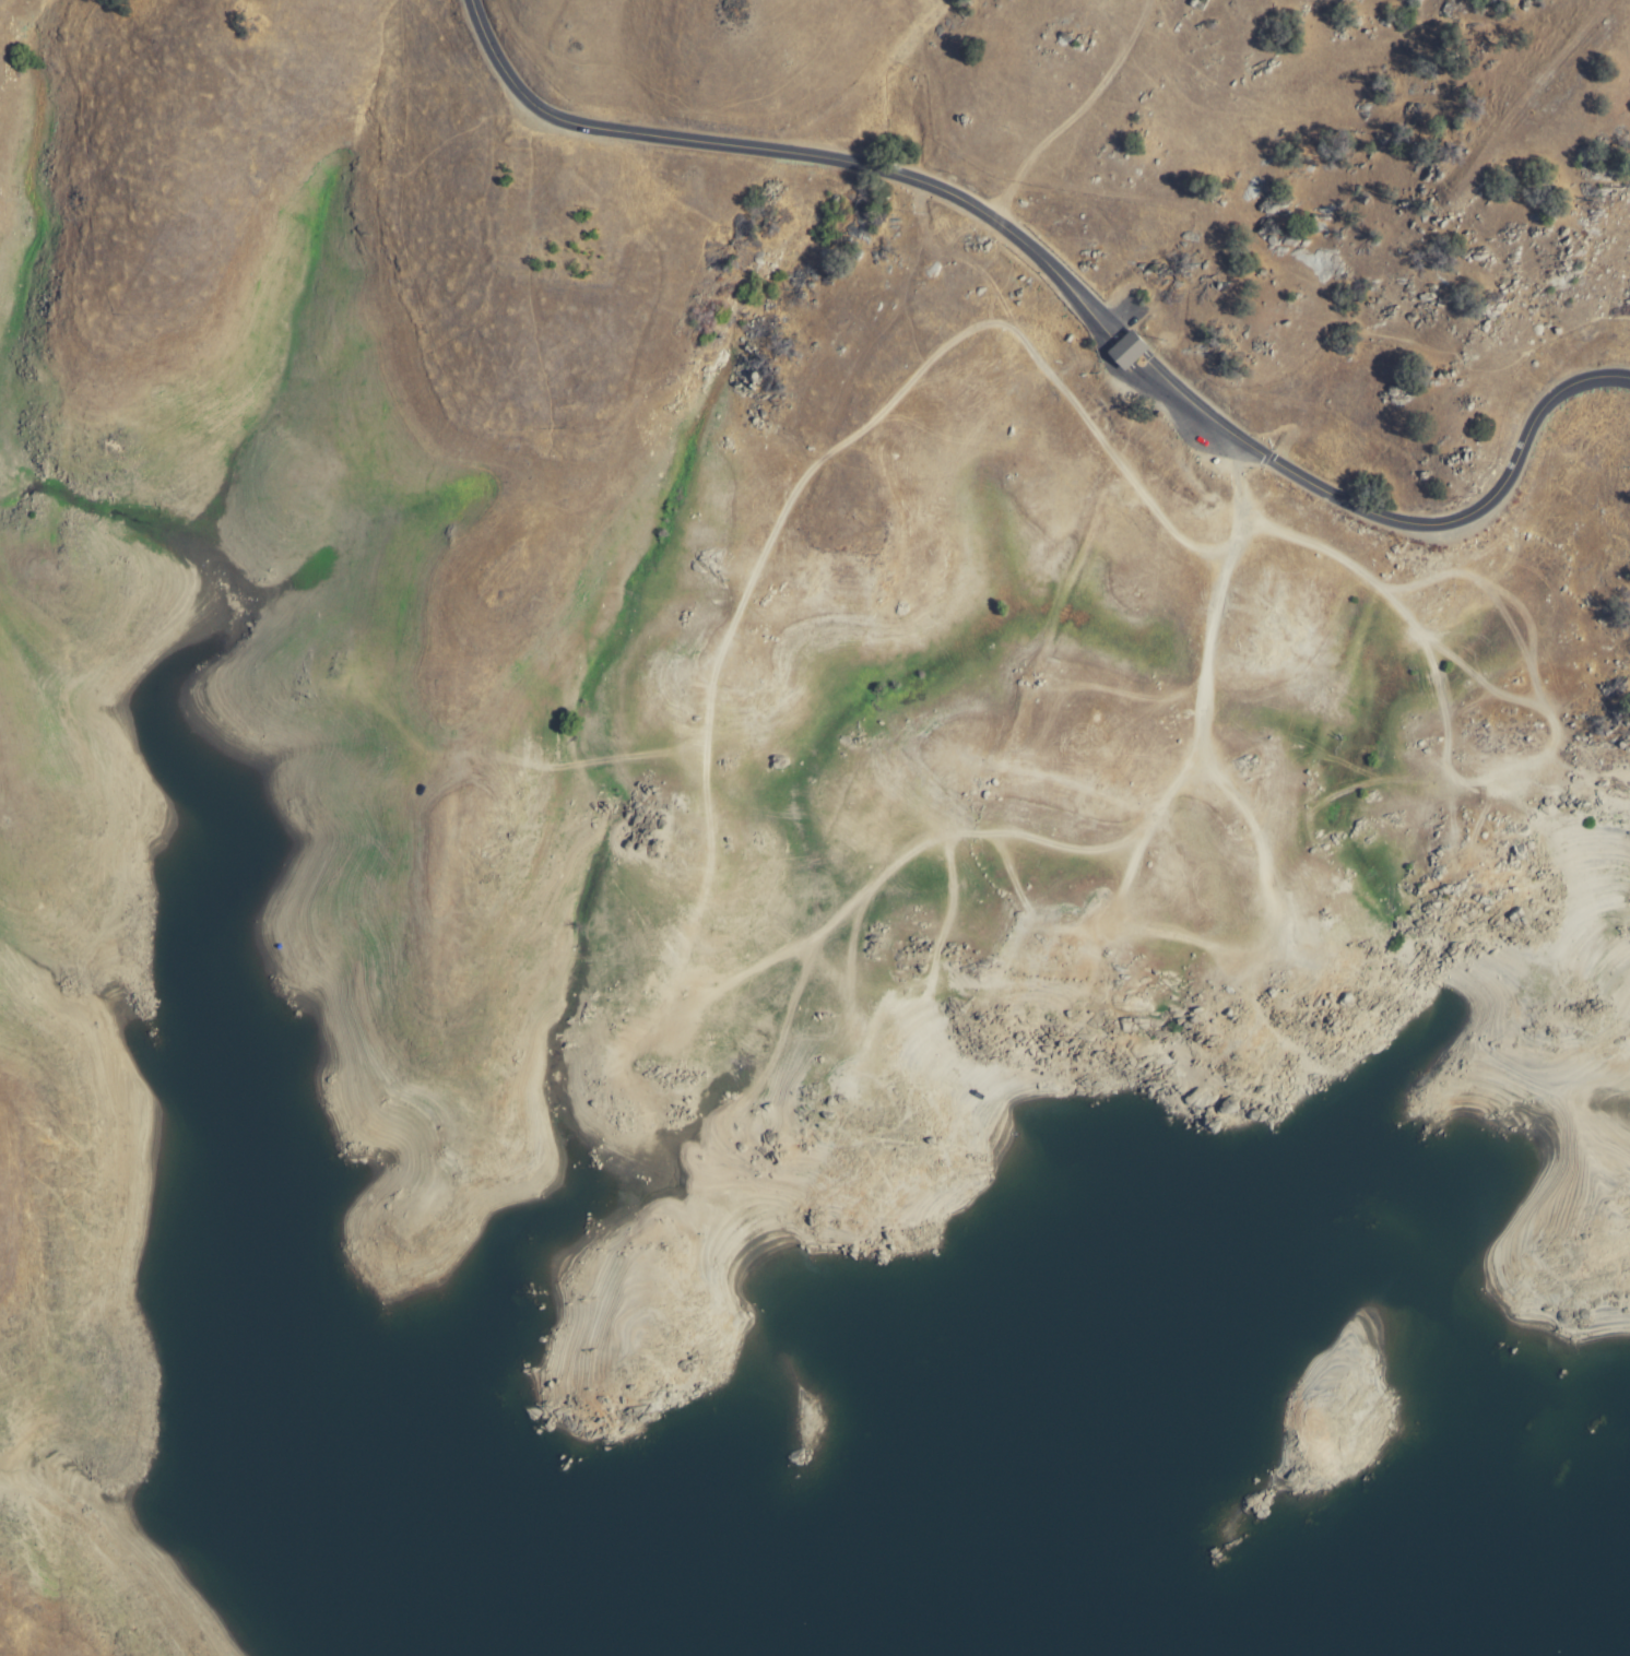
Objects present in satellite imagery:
road: (1071, 113)
road: (744, 147)
road: (522, 262)
road: (1119, 329)
road: (1108, 340)
road: (866, 348)
building: (1127, 350)
road: (878, 410)
road: (1420, 522)
road: (1446, 745)
road: (1150, 813)
park: (791, 914)
road: (947, 916)
road: (1274, 920)
road: (1074, 933)

